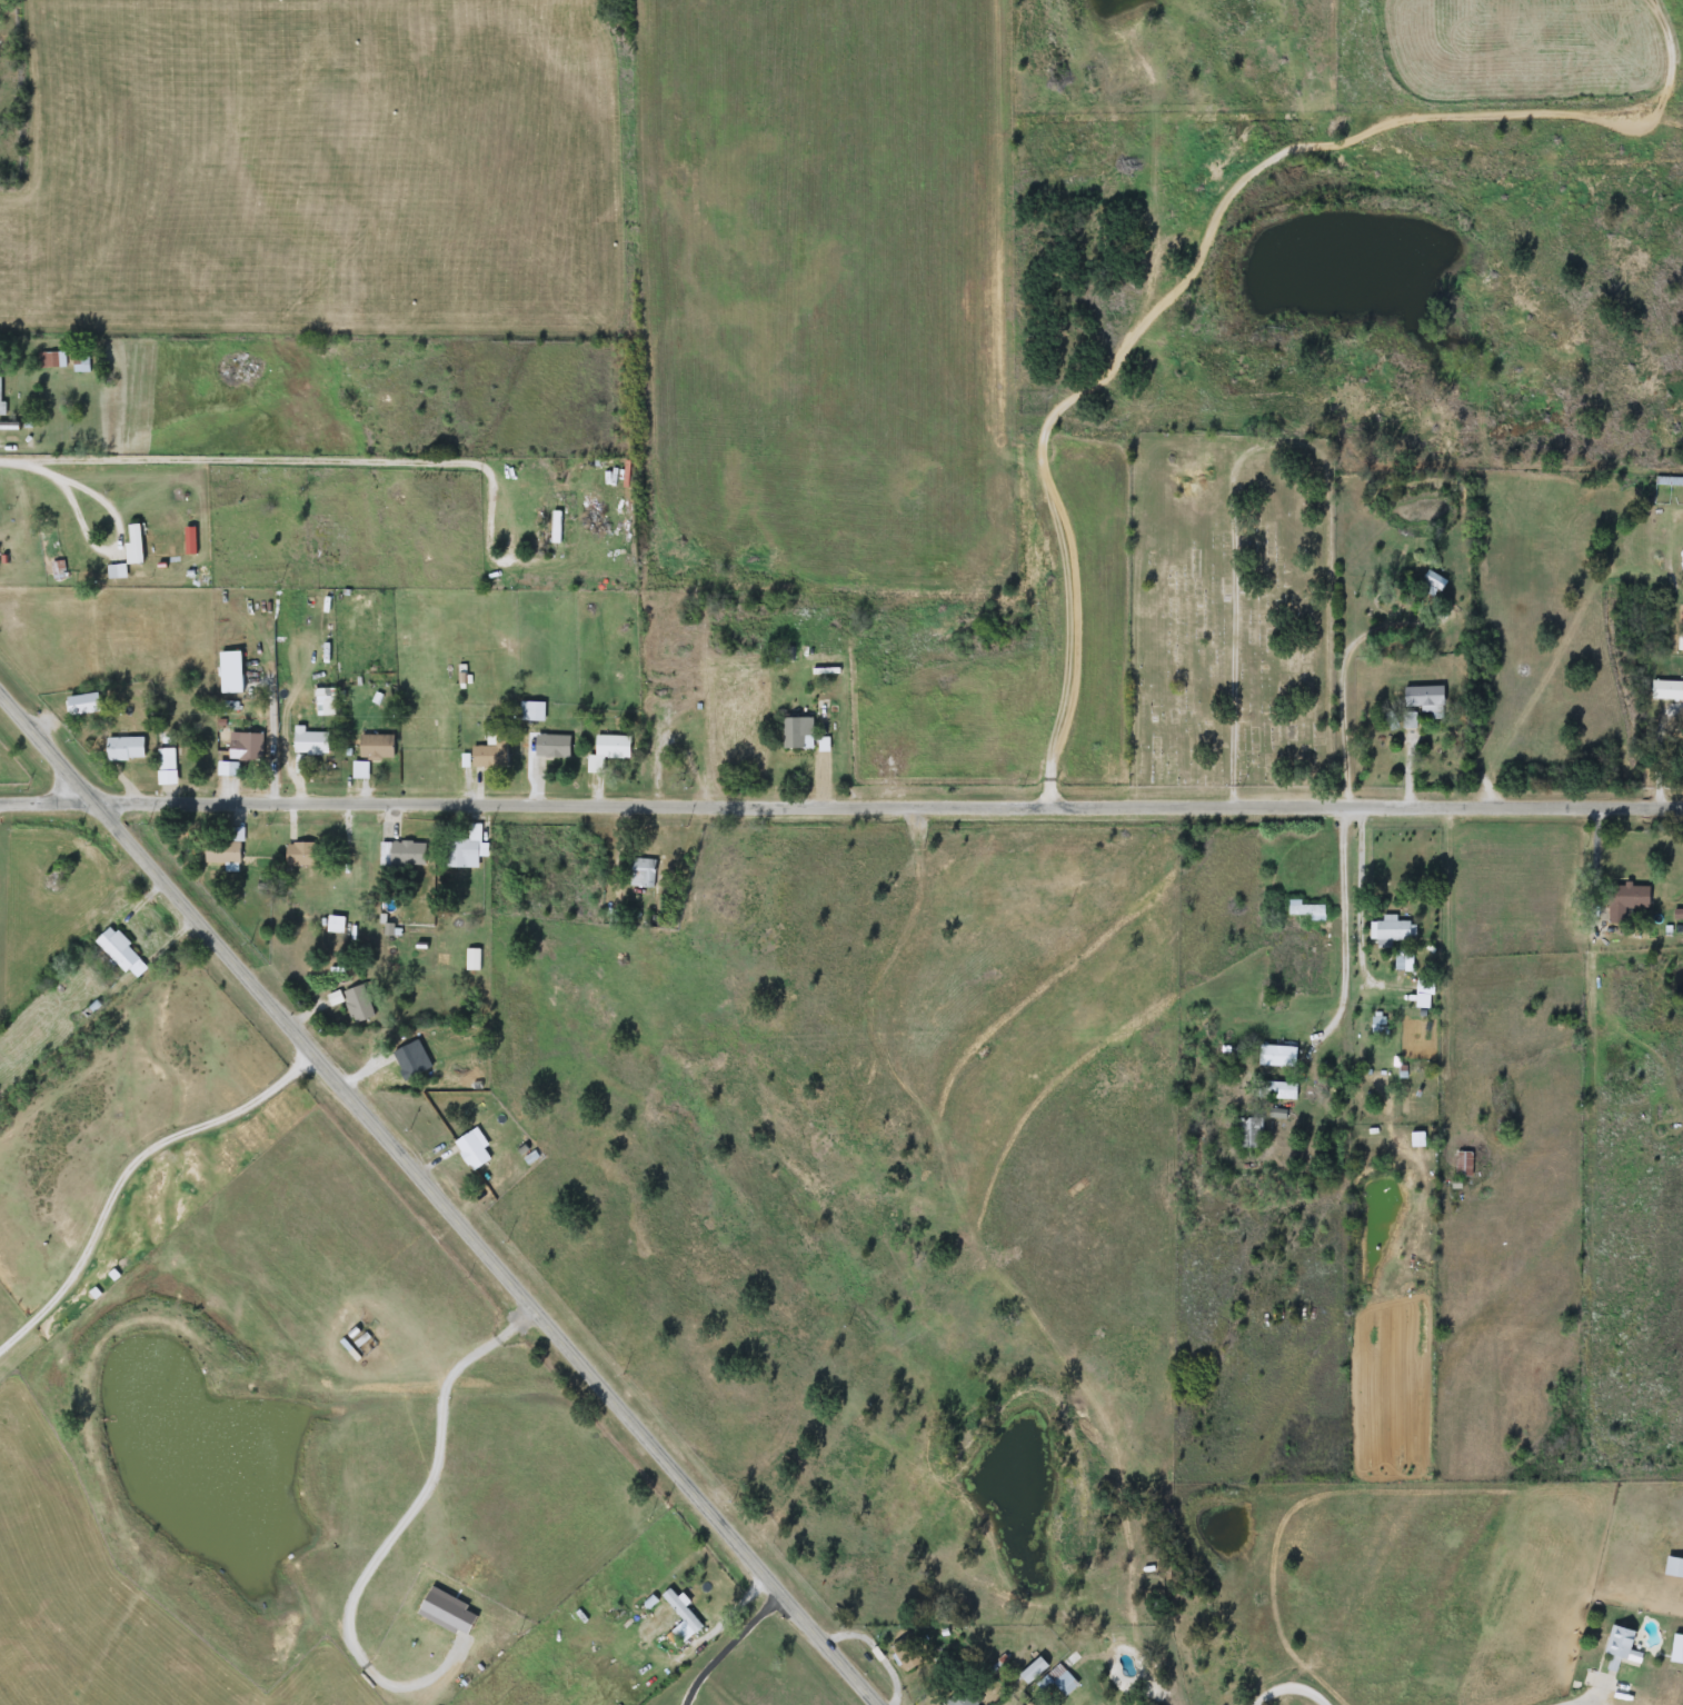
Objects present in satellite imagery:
building: (52, 360)
building: (81, 365)
road: (1097, 376)
building: (0, 395)
road: (407, 463)
road: (27, 465)
building: (557, 526)
road: (120, 536)
building: (311, 540)
building: (138, 541)
building: (1425, 579)
park: (1231, 611)
building: (1681, 640)
building: (231, 672)
road: (1341, 681)
building: (1667, 691)
building: (1424, 698)
building: (327, 701)
building: (536, 711)
building: (798, 734)
building: (166, 738)
road: (275, 740)
building: (310, 742)
building: (125, 747)
building: (377, 747)
building: (552, 747)
building: (247, 748)
building: (608, 751)
road: (663, 752)
building: (491, 754)
road: (1660, 757)
building: (167, 766)
road: (1408, 766)
road: (56, 777)
road: (50, 800)
road: (892, 805)
building: (468, 848)
building: (223, 854)
building: (303, 855)
building: (401, 856)
building: (643, 873)
building: (54, 876)
building: (1626, 900)
building: (1305, 911)
road: (1342, 925)
building: (1393, 929)
building: (118, 949)
building: (1404, 961)
building: (1422, 1001)
building: (359, 1004)
building: (1277, 1057)
building: (408, 1061)
building: (1278, 1090)
building: (1251, 1134)
road: (1590, 1134)
building: (474, 1149)
building: (1464, 1165)
road: (129, 1171)
road: (442, 1194)
building: (836, 1423)
road: (412, 1514)
building: (1674, 1567)
building: (681, 1616)
road: (696, 1635)
road: (731, 1644)
building: (1621, 1648)
building: (906, 1654)
building: (1058, 1681)
building: (1624, 1689)
building: (958, 1697)
road: (1293, 1698)

